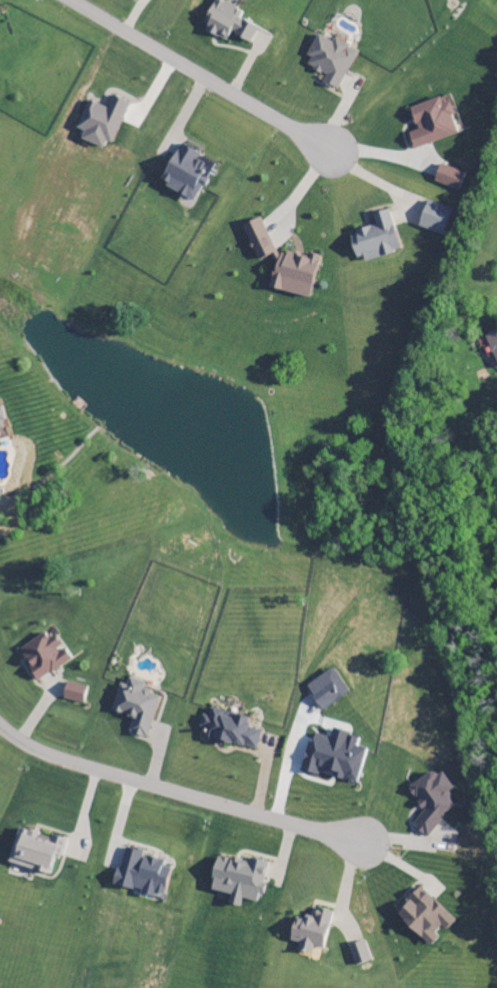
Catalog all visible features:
building: (226, 23)
building: (330, 61)
road: (203, 74)
building: (100, 122)
building: (431, 123)
building: (185, 173)
building: (448, 178)
building: (434, 218)
building: (374, 239)
building: (281, 263)
building: (492, 346)
building: (43, 657)
building: (326, 690)
building: (73, 694)
building: (135, 708)
building: (334, 757)
road: (177, 788)
building: (430, 802)
building: (32, 853)
building: (140, 875)
building: (236, 880)
building: (423, 917)
building: (309, 932)
building: (359, 954)

